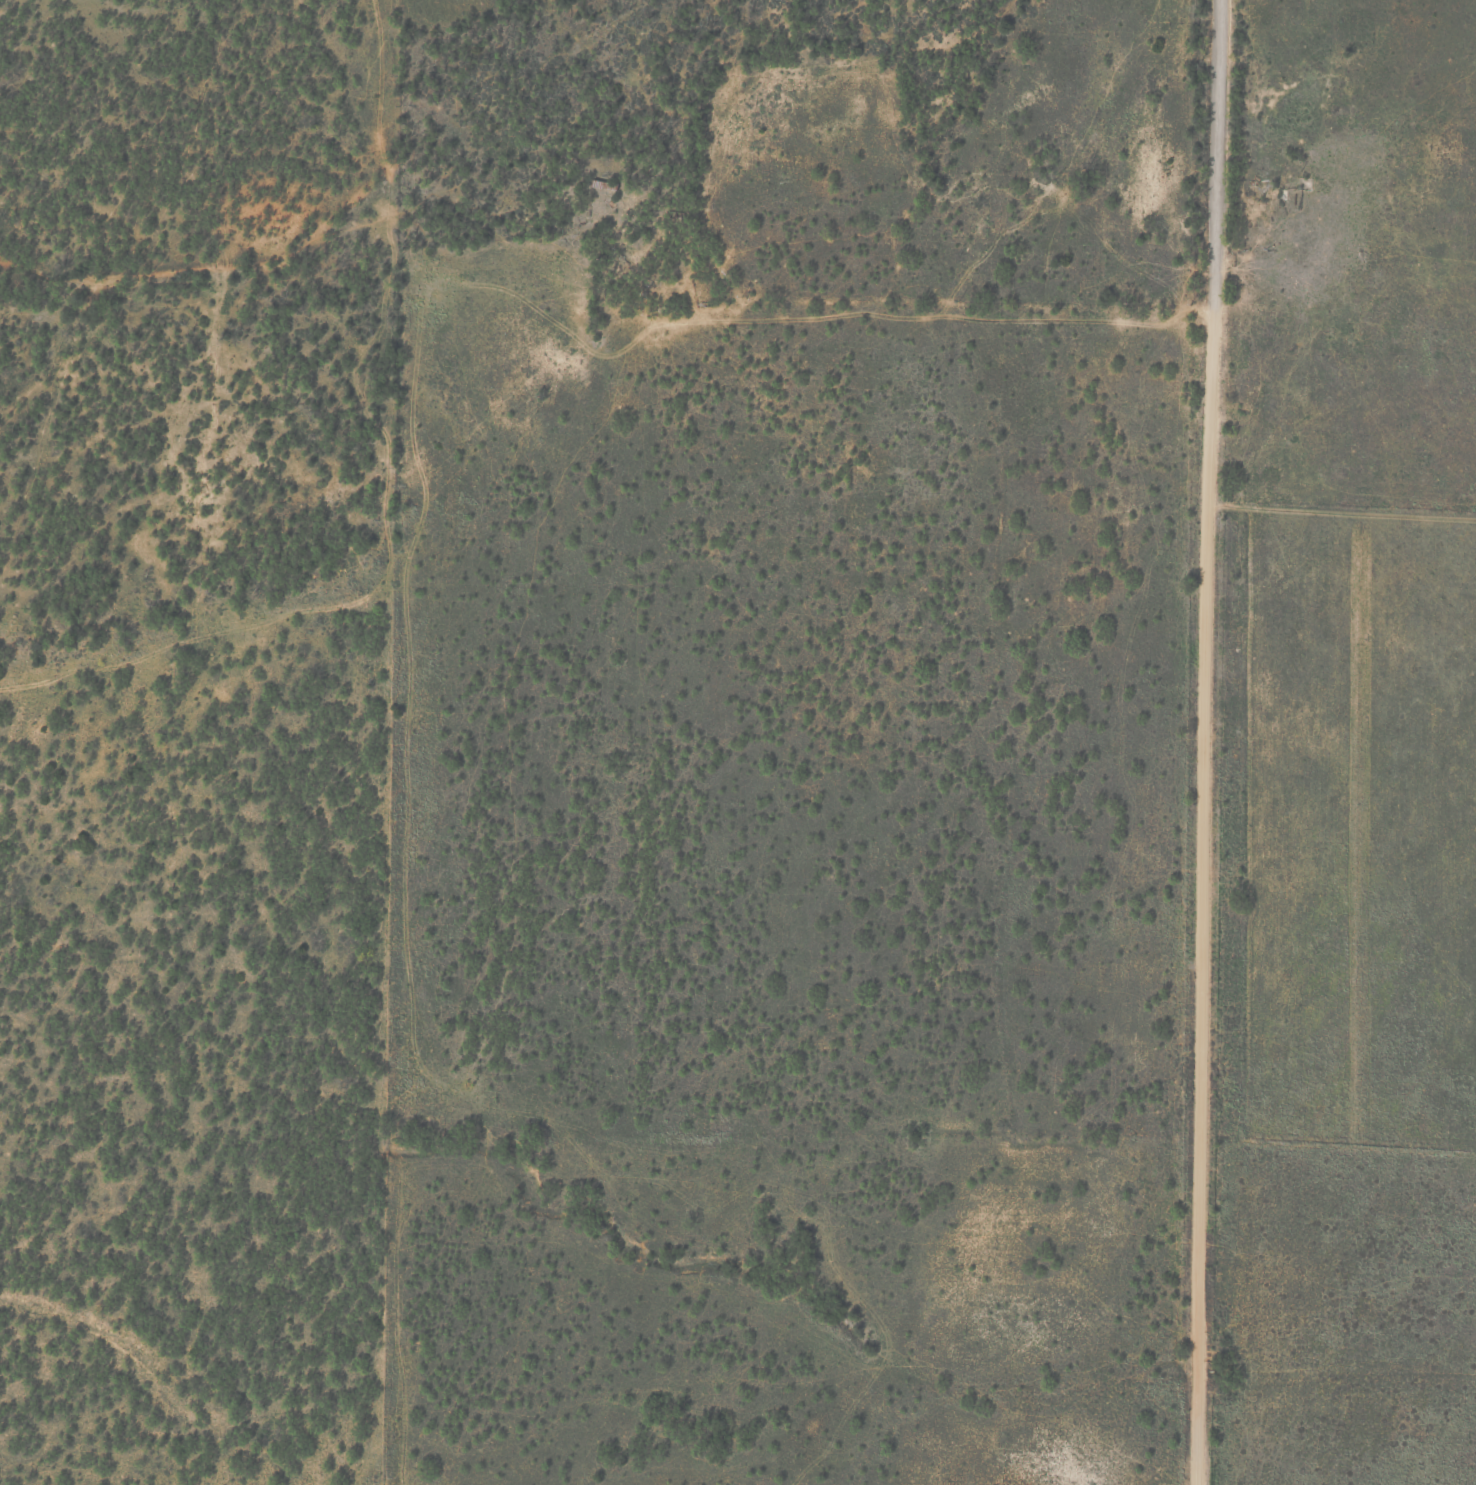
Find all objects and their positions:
road: (970, 295)
road: (1208, 742)

